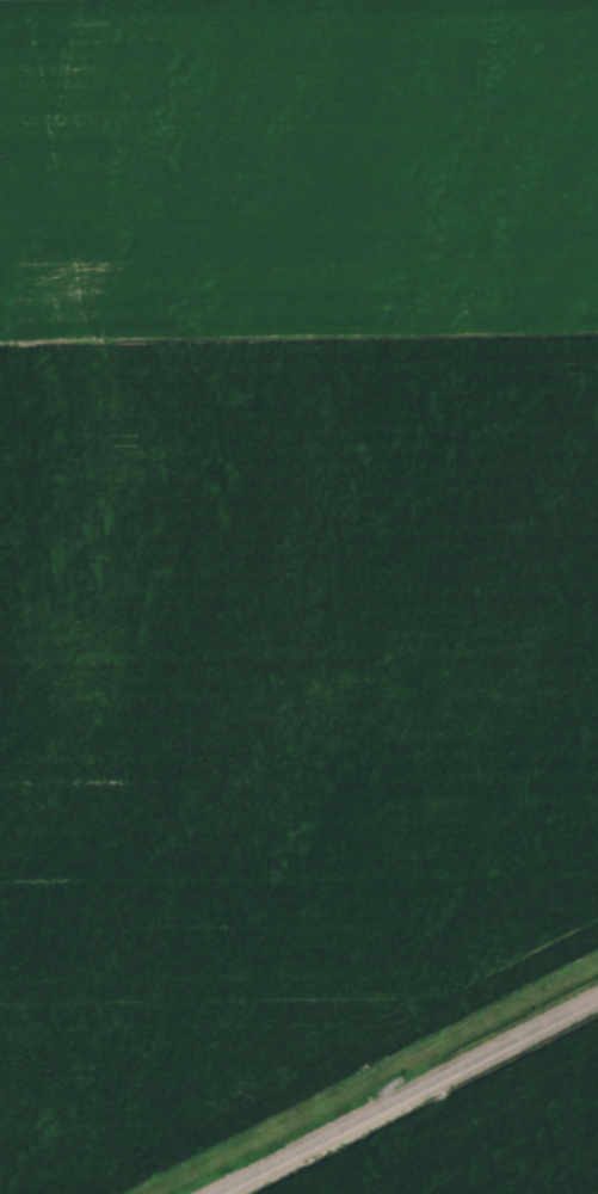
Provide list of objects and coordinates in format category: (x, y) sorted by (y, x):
railway: (390, 1085)

